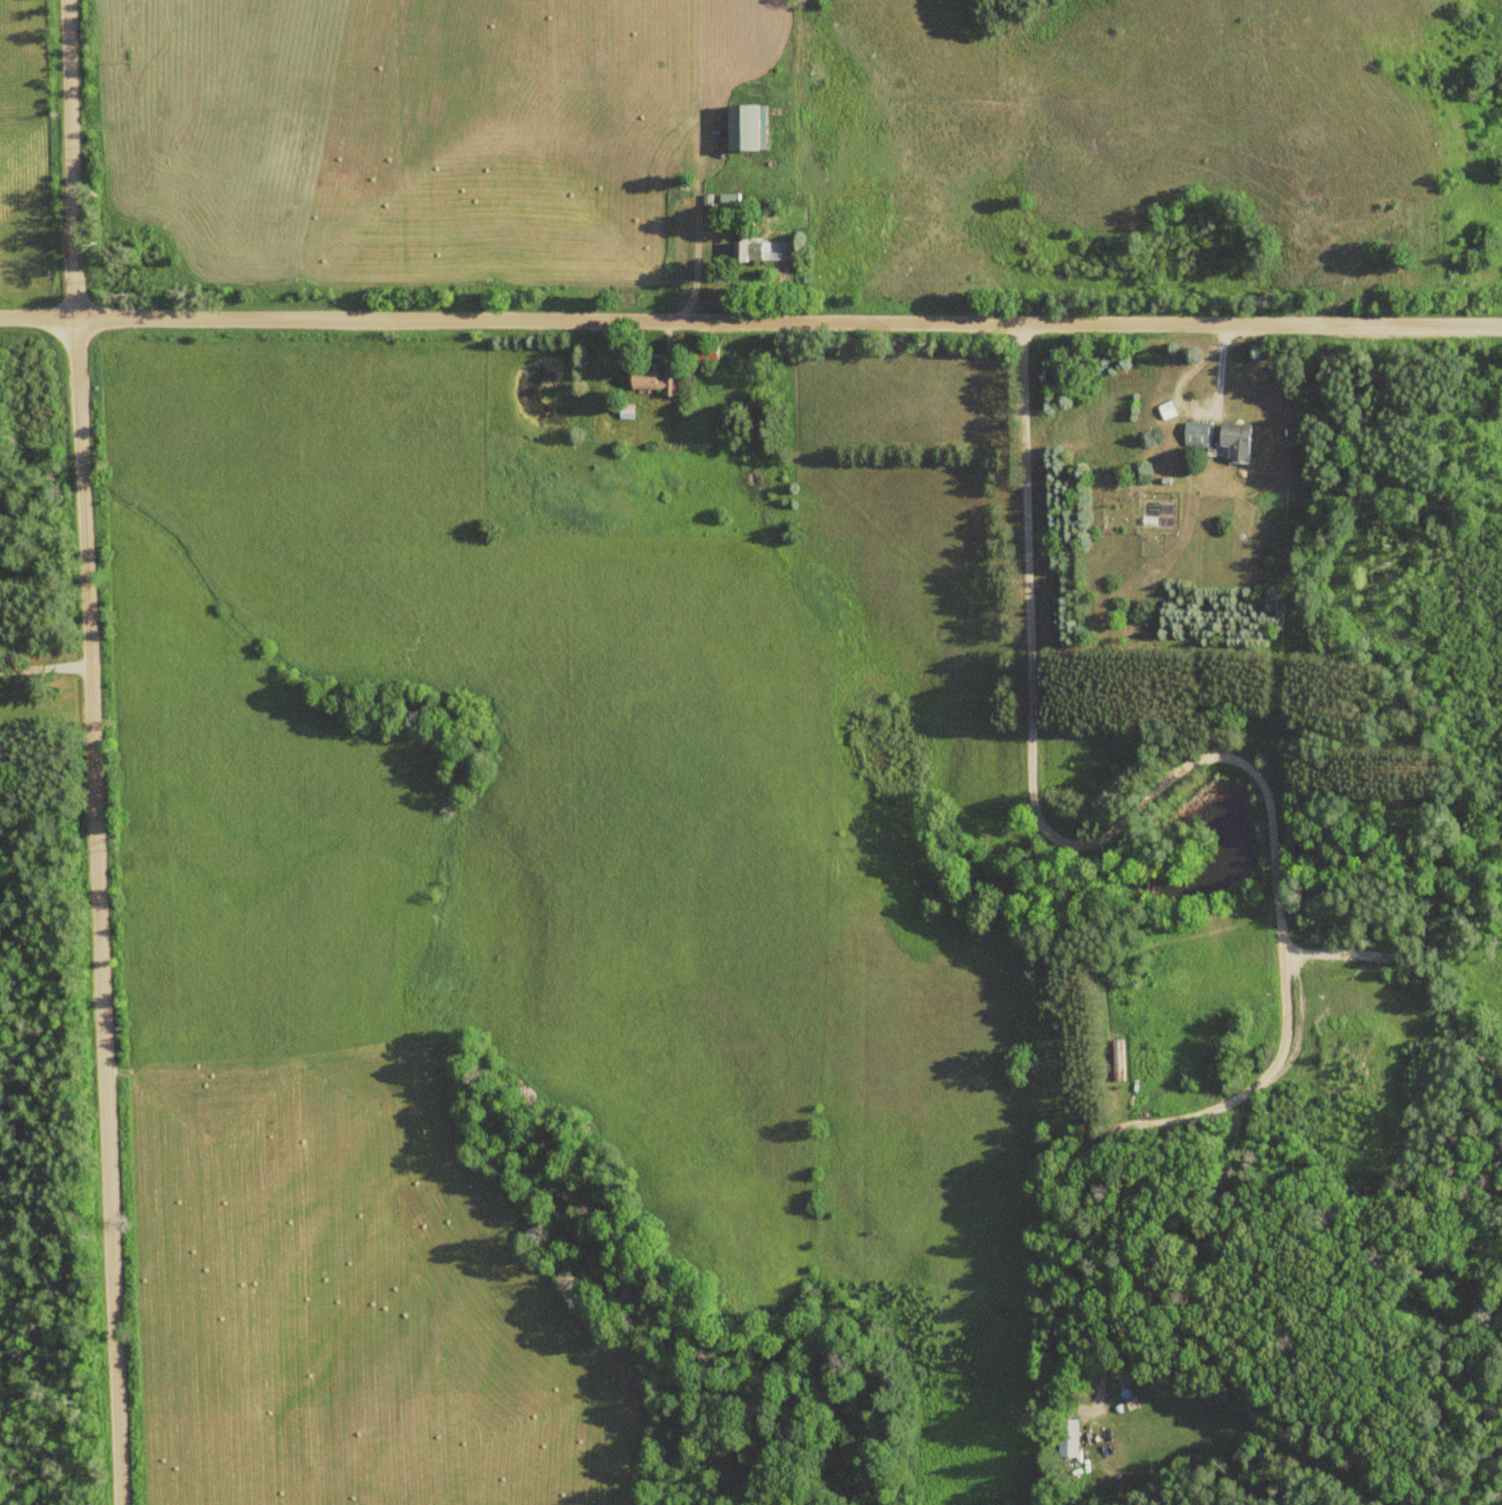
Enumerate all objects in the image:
building: (749, 128)
building: (766, 250)
road: (750, 323)
building: (658, 380)
building: (1170, 409)
building: (1198, 434)
building: (1245, 438)
road: (88, 752)
road: (1031, 799)
road: (1416, 971)
road: (1120, 1121)
building: (1136, 1374)
building: (1073, 1438)

